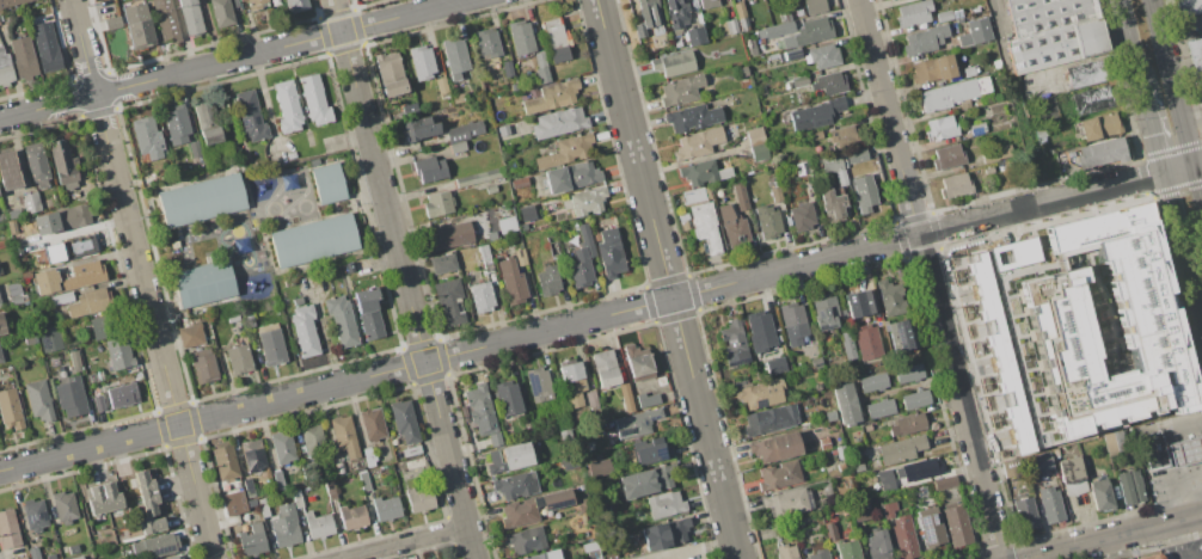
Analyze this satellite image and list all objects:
building: (747, 0)
building: (11, 2)
building: (707, 2)
building: (253, 4)
building: (295, 5)
building: (814, 6)
building: (1188, 7)
building: (221, 12)
building: (798, 12)
building: (676, 13)
building: (912, 13)
building: (646, 16)
building: (943, 16)
building: (189, 17)
building: (741, 17)
building: (165, 20)
building: (112, 23)
road: (1180, 25)
building: (137, 26)
building: (726, 26)
building: (774, 30)
road: (210, 32)
building: (808, 32)
building: (974, 32)
building: (1053, 32)
building: (693, 36)
building: (520, 37)
building: (554, 39)
building: (924, 39)
building: (486, 43)
road: (1132, 45)
building: (45, 47)
building: (1195, 53)
building: (786, 55)
building: (454, 56)
building: (821, 56)
building: (23, 59)
building: (539, 59)
road: (233, 60)
building: (421, 62)
building: (673, 63)
building: (507, 68)
building: (5, 69)
building: (932, 69)
building: (741, 70)
building: (968, 70)
building: (1084, 73)
building: (388, 74)
building: (541, 74)
building: (1198, 79)
building: (798, 81)
building: (829, 82)
building: (441, 85)
building: (513, 87)
building: (680, 88)
building: (952, 93)
building: (1200, 94)
building: (458, 97)
building: (551, 97)
road: (1177, 97)
building: (1091, 99)
building: (314, 100)
road: (1018, 102)
building: (287, 107)
building: (815, 115)
building: (250, 116)
building: (692, 117)
road: (889, 117)
building: (206, 122)
building: (558, 122)
building: (176, 124)
building: (1098, 127)
building: (419, 128)
building: (939, 128)
building: (977, 129)
building: (464, 130)
building: (502, 130)
road: (1154, 131)
building: (1040, 134)
building: (812, 135)
building: (754, 136)
building: (844, 136)
building: (146, 137)
building: (697, 143)
building: (456, 147)
building: (194, 148)
building: (565, 150)
building: (758, 152)
building: (995, 153)
building: (1099, 153)
building: (290, 155)
building: (855, 155)
building: (946, 156)
building: (36, 164)
building: (62, 164)
building: (833, 167)
building: (429, 168)
building: (801, 168)
building: (7, 171)
building: (703, 172)
building: (570, 176)
building: (479, 177)
building: (327, 183)
building: (519, 183)
building: (953, 185)
building: (490, 189)
building: (863, 192)
building: (693, 195)
building: (774, 195)
building: (740, 196)
building: (201, 199)
building: (585, 201)
building: (30, 202)
building: (437, 204)
building: (833, 207)
building: (526, 213)
building: (801, 216)
building: (60, 220)
building: (766, 222)
building: (682, 225)
building: (704, 226)
building: (731, 227)
building: (450, 235)
building: (313, 240)
road: (1183, 244)
building: (492, 246)
building: (53, 253)
building: (608, 253)
building: (1012, 253)
building: (520, 257)
building: (484, 259)
building: (582, 259)
building: (442, 263)
building: (68, 277)
road: (668, 278)
road: (142, 279)
road: (404, 279)
building: (546, 279)
building: (511, 282)
building: (202, 283)
building: (479, 296)
building: (60, 297)
building: (889, 297)
building: (16, 300)
building: (296, 301)
building: (448, 301)
building: (90, 302)
building: (857, 303)
building: (0, 308)
building: (824, 311)
building: (368, 313)
building: (232, 317)
road: (601, 317)
building: (341, 320)
building: (1055, 320)
building: (247, 321)
building: (792, 322)
building: (1, 326)
building: (103, 326)
building: (303, 330)
building: (759, 331)
building: (900, 334)
building: (190, 336)
rooftop solar panel: (899, 336)
rooftop solar panel: (44, 337)
building: (49, 339)
building: (732, 340)
building: (866, 342)
building: (270, 344)
building: (847, 345)
building: (996, 352)
building: (118, 354)
building: (74, 358)
building: (238, 358)
building: (0, 360)
building: (637, 362)
rooftop solar panel: (737, 363)
building: (774, 364)
building: (203, 365)
building: (603, 369)
building: (908, 373)
building: (94, 376)
building: (661, 381)
building: (872, 381)
building: (571, 383)
building: (538, 385)
building: (122, 394)
building: (760, 394)
building: (69, 397)
road: (959, 397)
building: (507, 398)
building: (625, 398)
building: (38, 399)
building: (590, 399)
building: (646, 399)
building: (914, 399)
building: (98, 403)
building: (844, 403)
rooftop solar panel: (759, 404)
building: (10, 408)
building: (479, 408)
building: (879, 408)
building: (829, 416)
building: (769, 419)
building: (403, 420)
building: (633, 423)
building: (372, 424)
building: (907, 424)
rooftop solar panel: (627, 434)
building: (344, 436)
building: (493, 440)
building: (312, 441)
building: (589, 444)
building: (824, 444)
building: (775, 447)
building: (282, 448)
building: (900, 449)
building: (1153, 449)
building: (650, 450)
building: (1185, 450)
building: (410, 451)
building: (840, 451)
building: (251, 454)
rooftop solar panel: (657, 455)
building: (367, 456)
road: (1190, 456)
building: (508, 457)
building: (223, 460)
building: (335, 461)
building: (410, 462)
building: (569, 462)
building: (1040, 462)
building: (858, 467)
building: (1011, 467)
building: (600, 469)
building: (918, 469)
building: (778, 474)
building: (1071, 475)
building: (277, 479)
building: (645, 480)
building: (885, 480)
building: (363, 481)
building: (943, 483)
building: (515, 485)
building: (1129, 486)
building: (247, 487)
road: (1116, 489)
building: (330, 490)
building: (145, 492)
building: (1099, 494)
building: (103, 498)
building: (296, 498)
building: (418, 499)
building: (233, 503)
building: (250, 503)
building: (785, 503)
building: (584, 504)
building: (663, 504)
building: (1050, 504)
building: (63, 506)
building: (262, 508)
building: (385, 508)
building: (532, 508)
building: (888, 509)
building: (33, 514)
building: (1024, 515)
building: (351, 517)
rooftop solar panel: (933, 518)
building: (955, 523)
building: (151, 524)
building: (284, 526)
building: (318, 526)
building: (928, 527)
building: (7, 529)
rooftop solar panel: (925, 529)
building: (669, 530)
building: (584, 534)
road: (1114, 536)
building: (903, 537)
building: (251, 540)
building: (525, 540)
road: (1176, 540)
road: (406, 543)
building: (841, 543)
building: (154, 545)
building: (877, 545)
building: (72, 548)
road: (692, 548)
building: (590, 549)
building: (784, 552)
building: (818, 554)
building: (545, 555)
building: (1151, 557)
road: (1196, 557)
building: (22, 558)
building: (78, 558)
building: (171, 558)
building: (179, 558)

